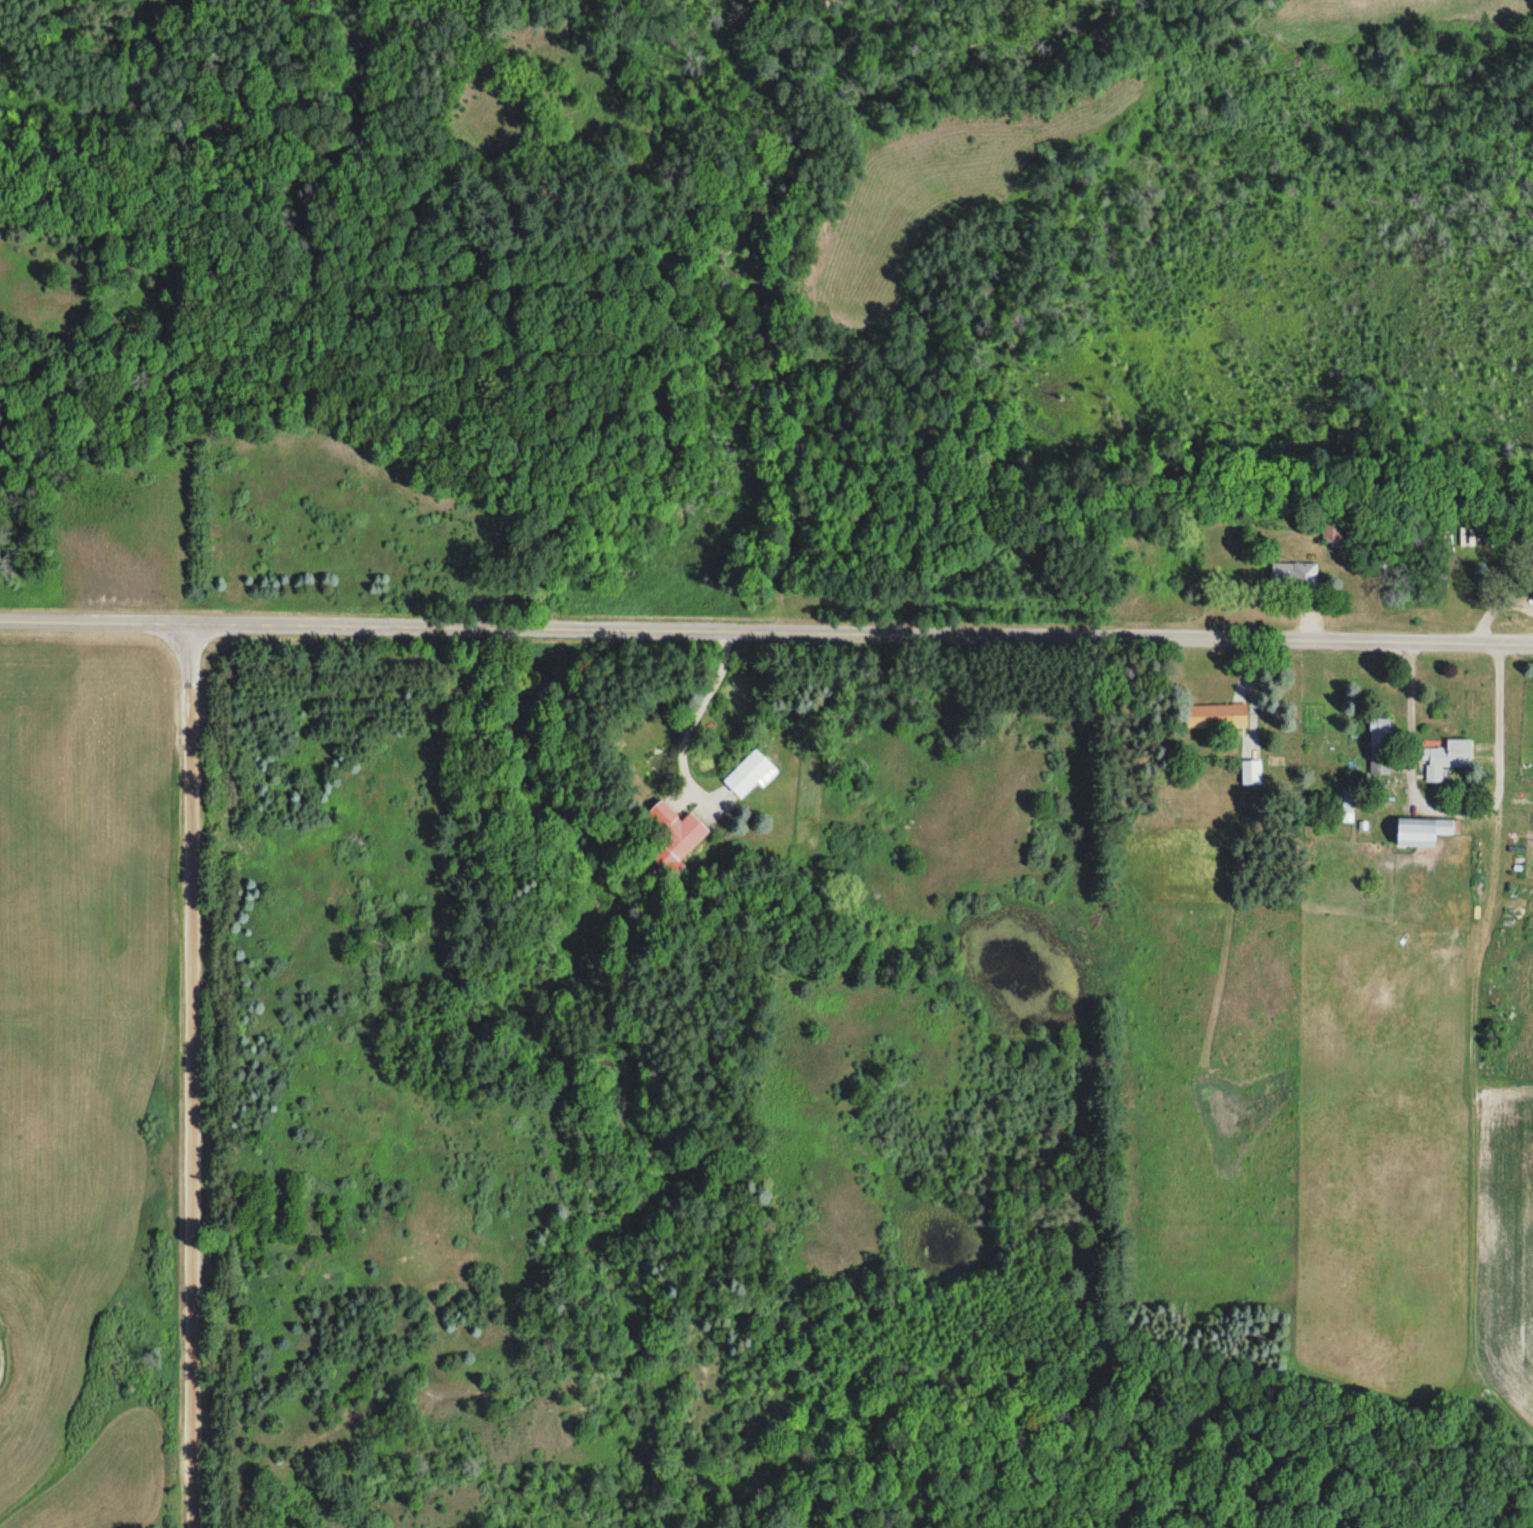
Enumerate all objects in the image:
building: (1332, 532)
building: (1296, 574)
road: (766, 633)
building: (1215, 716)
building: (1381, 746)
building: (1449, 758)
building: (1252, 772)
building: (751, 774)
building: (1426, 831)
building: (672, 836)
road: (190, 1077)

